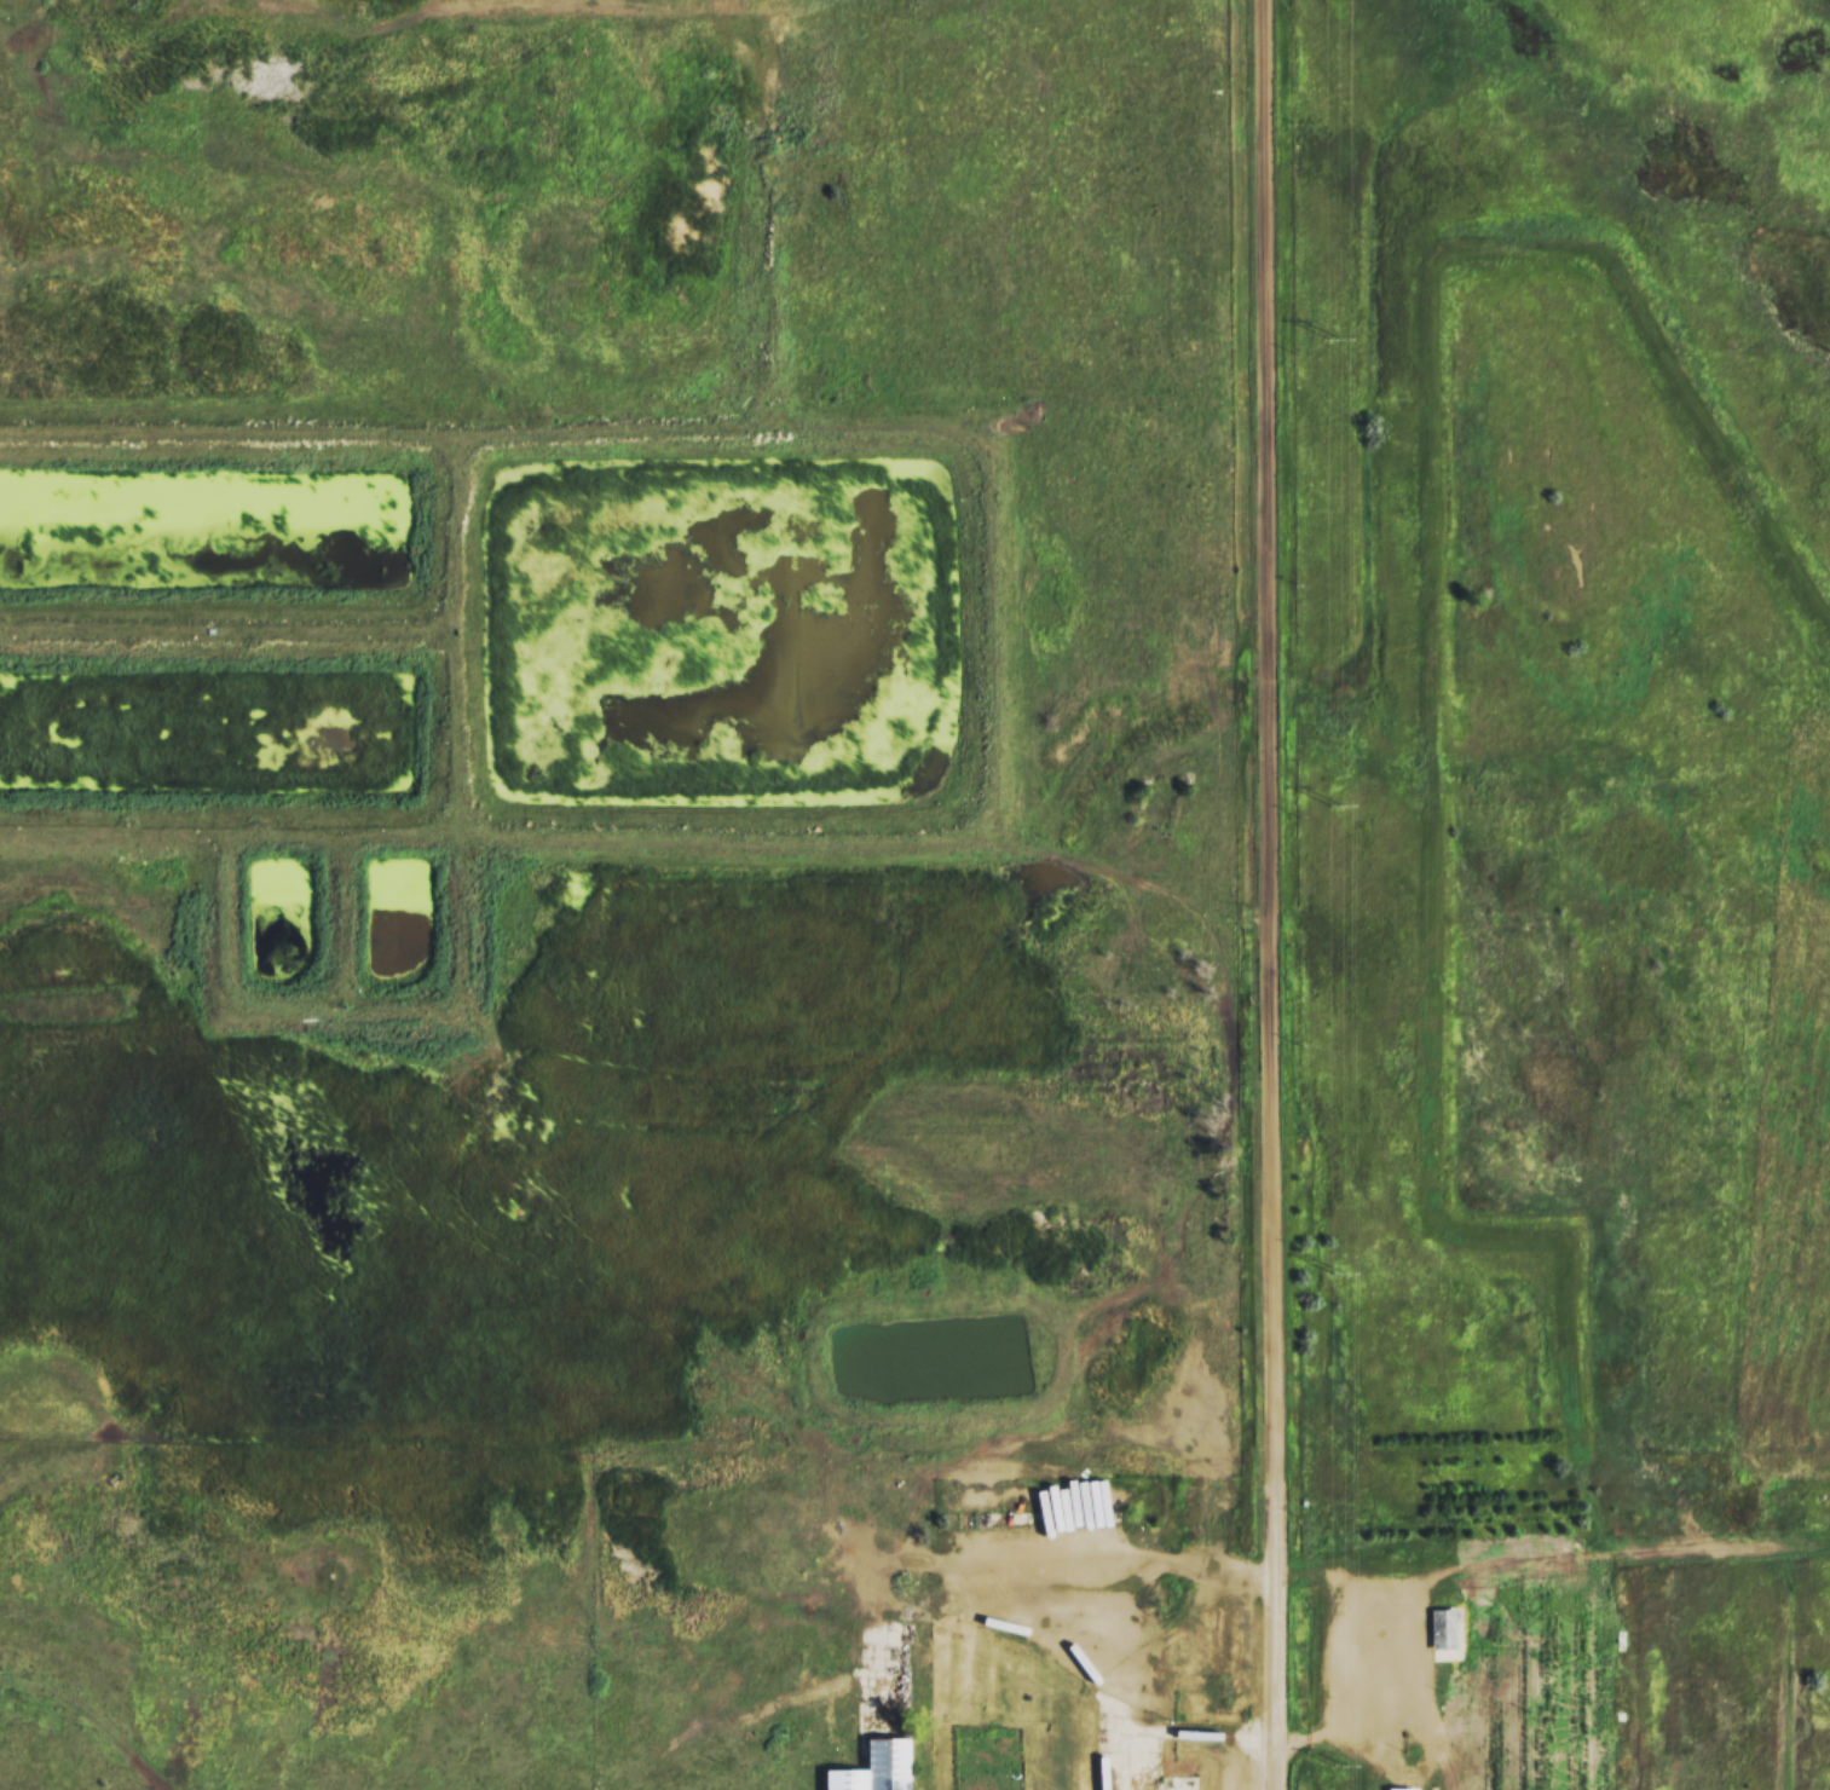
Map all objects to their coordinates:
power tower: (1333, 337)
power tower: (1335, 804)
road: (1269, 895)
power tower: (1337, 1272)
road: (1432, 1578)
road: (1072, 1604)
building: (1439, 1629)
road: (1643, 1663)
road: (96, 1713)
road: (755, 1720)
power tower: (1340, 1766)
building: (871, 1768)
building: (1180, 1783)
building: (1398, 1789)

